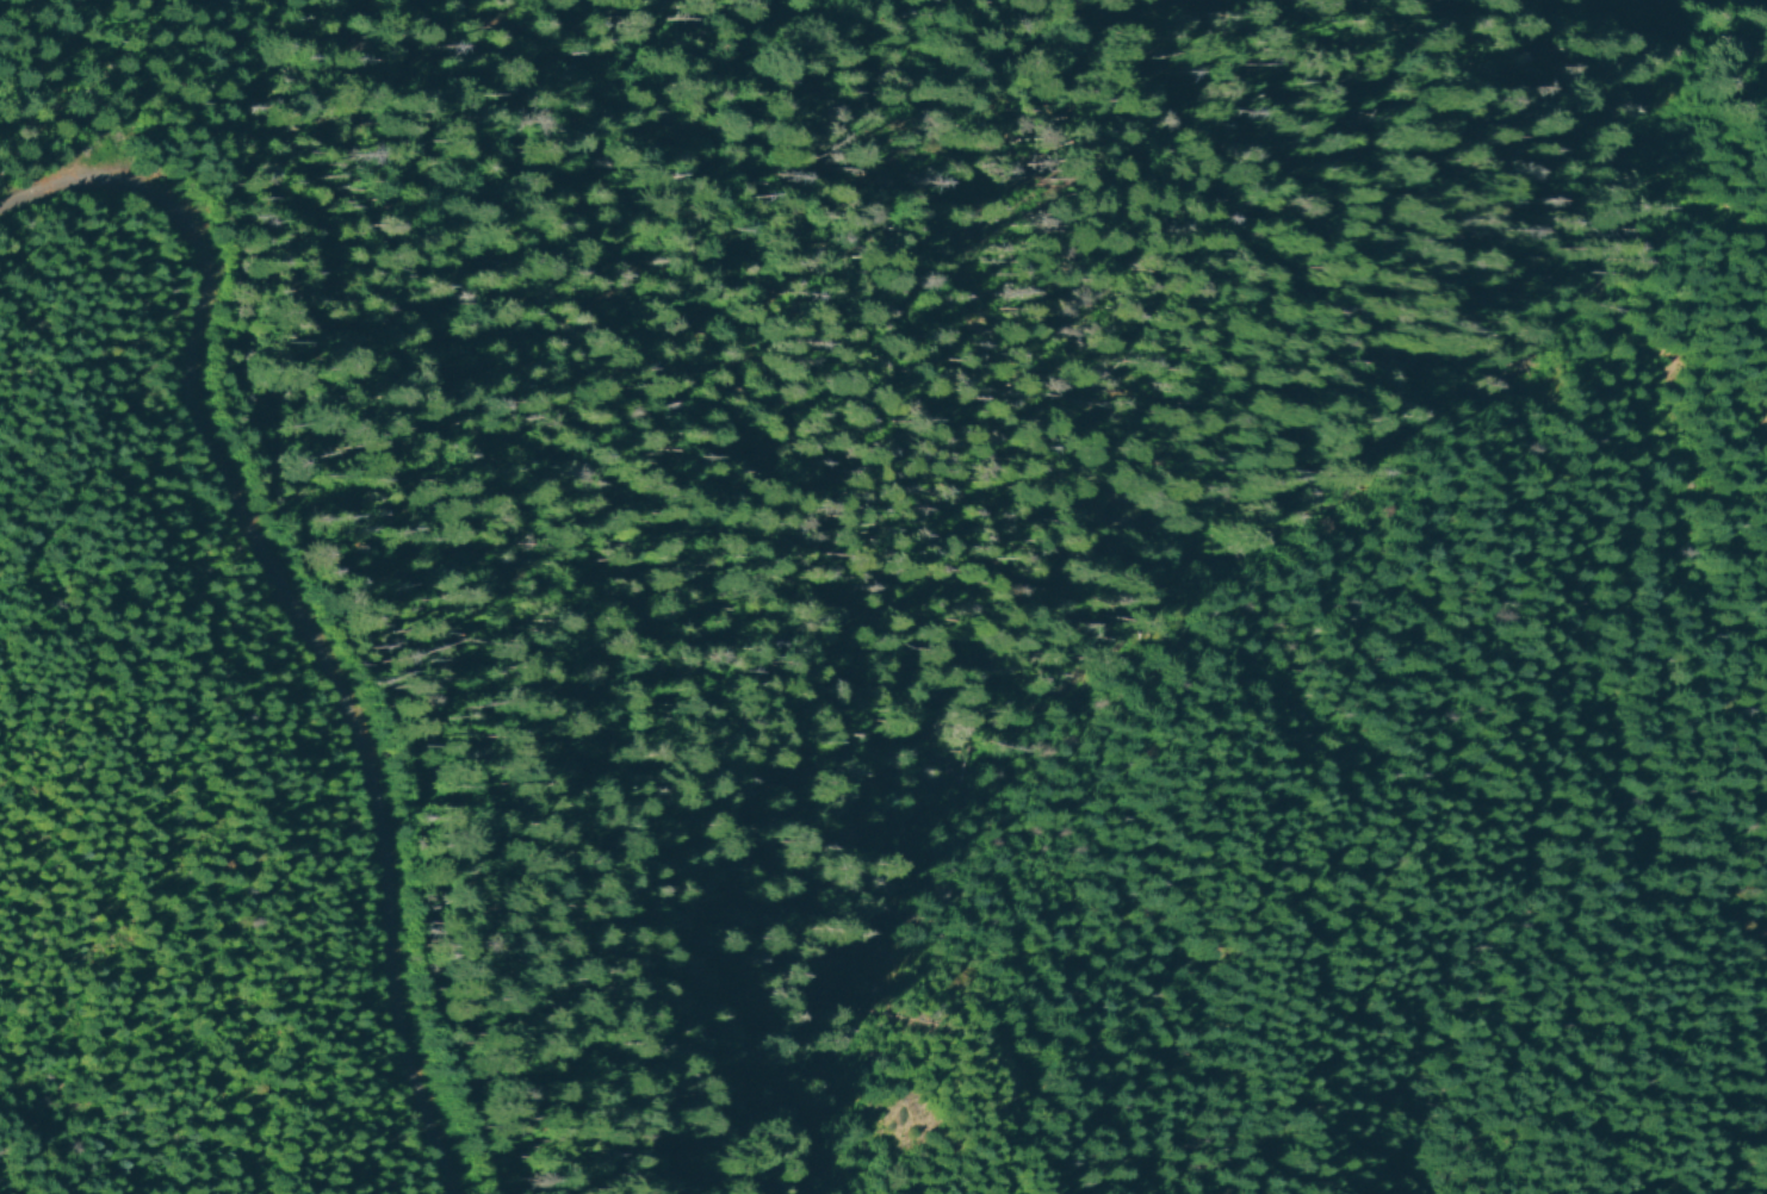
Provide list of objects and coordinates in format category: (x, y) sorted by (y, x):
road: (291, 608)

